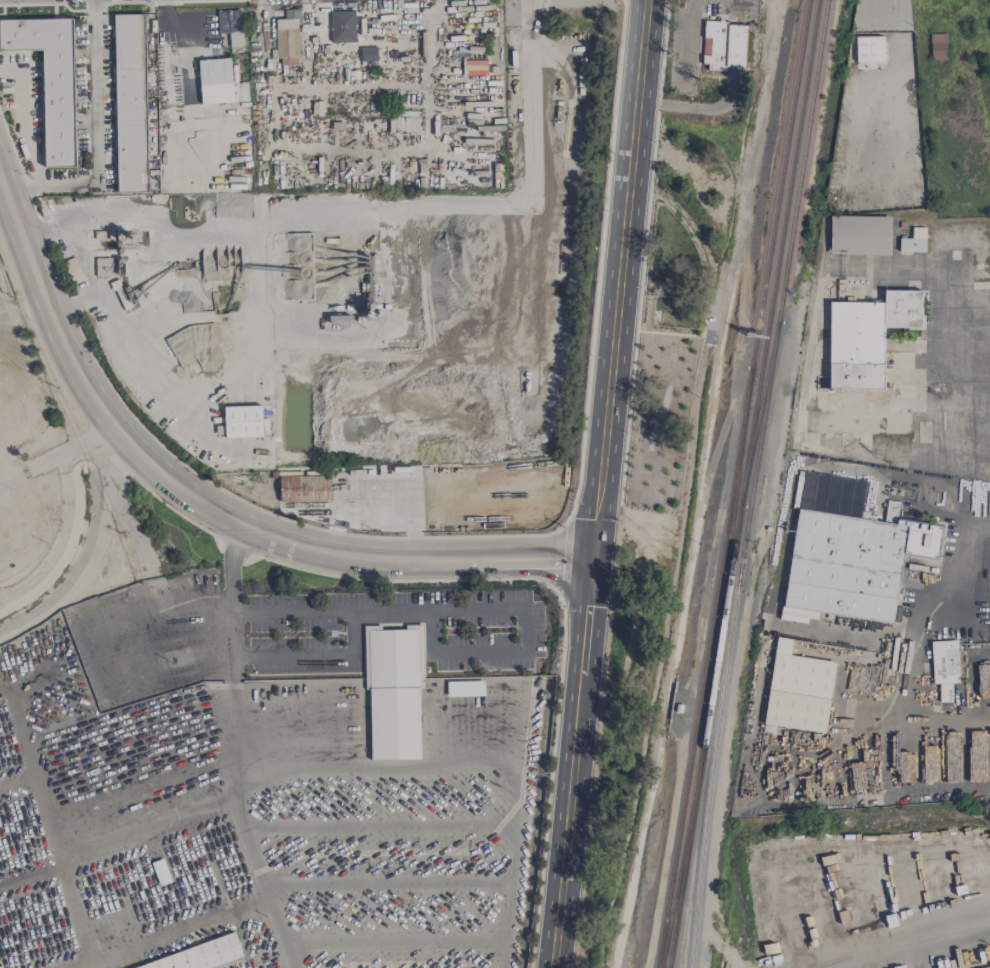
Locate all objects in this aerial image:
building: (230, 26)
building: (341, 27)
road: (529, 37)
building: (287, 39)
building: (723, 46)
building: (937, 47)
building: (869, 49)
road: (641, 50)
road: (688, 53)
building: (368, 54)
building: (474, 67)
building: (49, 80)
building: (215, 81)
building: (129, 103)
road: (660, 104)
road: (719, 107)
road: (18, 121)
road: (97, 140)
road: (351, 152)
railway: (780, 185)
building: (859, 236)
road: (79, 242)
building: (913, 242)
railway: (778, 253)
railway: (788, 253)
building: (104, 267)
building: (72, 271)
road: (953, 298)
road: (615, 328)
road: (138, 337)
building: (866, 337)
road: (82, 380)
building: (242, 422)
road: (911, 428)
wastewater plant: (27, 446)
road: (77, 447)
road: (110, 474)
road: (19, 475)
road: (2, 481)
building: (306, 491)
building: (891, 512)
road: (948, 512)
railway: (731, 528)
road: (269, 536)
building: (847, 554)
road: (396, 558)
road: (546, 558)
road: (70, 590)
road: (589, 594)
railway: (725, 596)
road: (972, 607)
road: (466, 609)
road: (231, 641)
road: (978, 649)
road: (582, 666)
building: (944, 668)
railway: (705, 669)
building: (465, 689)
road: (969, 690)
building: (393, 691)
building: (797, 691)
railway: (707, 717)
road: (932, 736)
road: (827, 740)
road: (493, 759)
road: (938, 789)
road: (90, 811)
road: (566, 835)
railway: (681, 858)
railway: (685, 858)
road: (262, 867)
building: (160, 872)
road: (937, 925)
railway: (904, 942)
building: (201, 955)
building: (989, 967)

